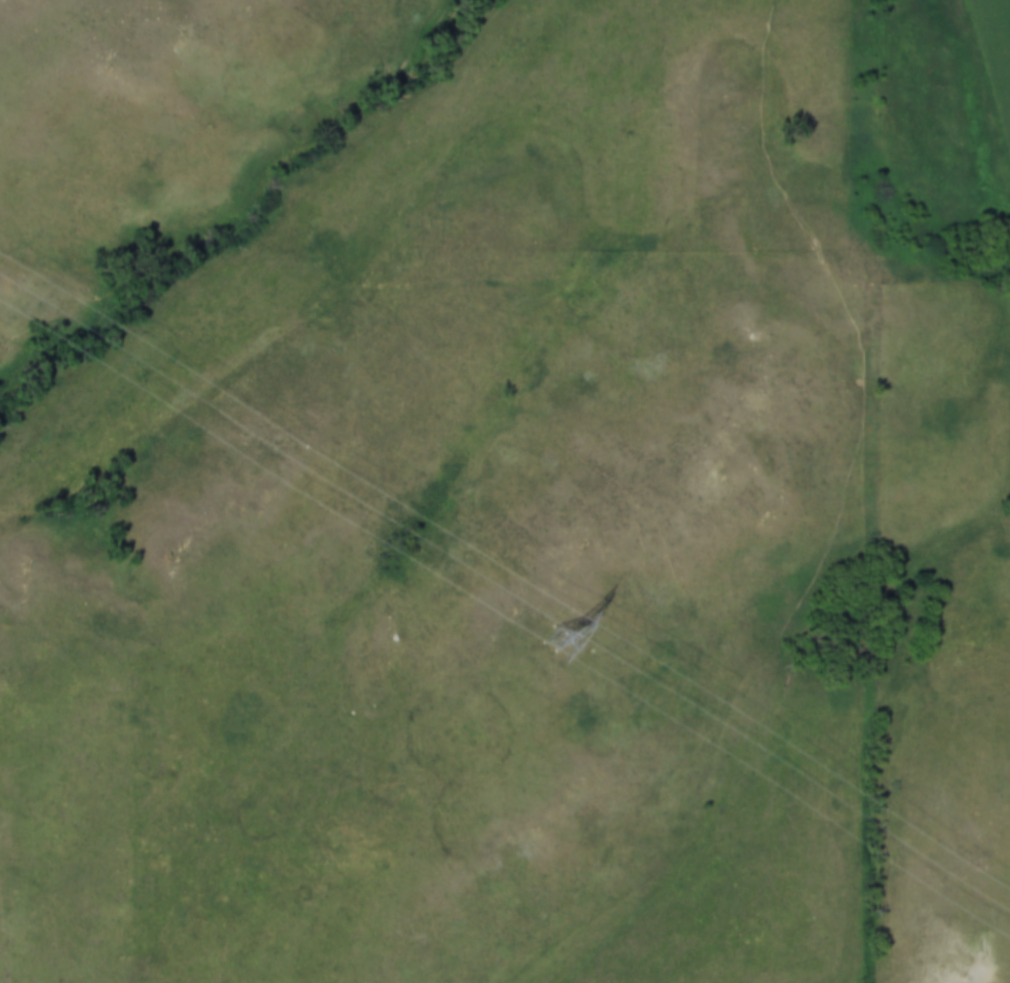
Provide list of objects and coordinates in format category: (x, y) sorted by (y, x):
power tower: (549, 638)

